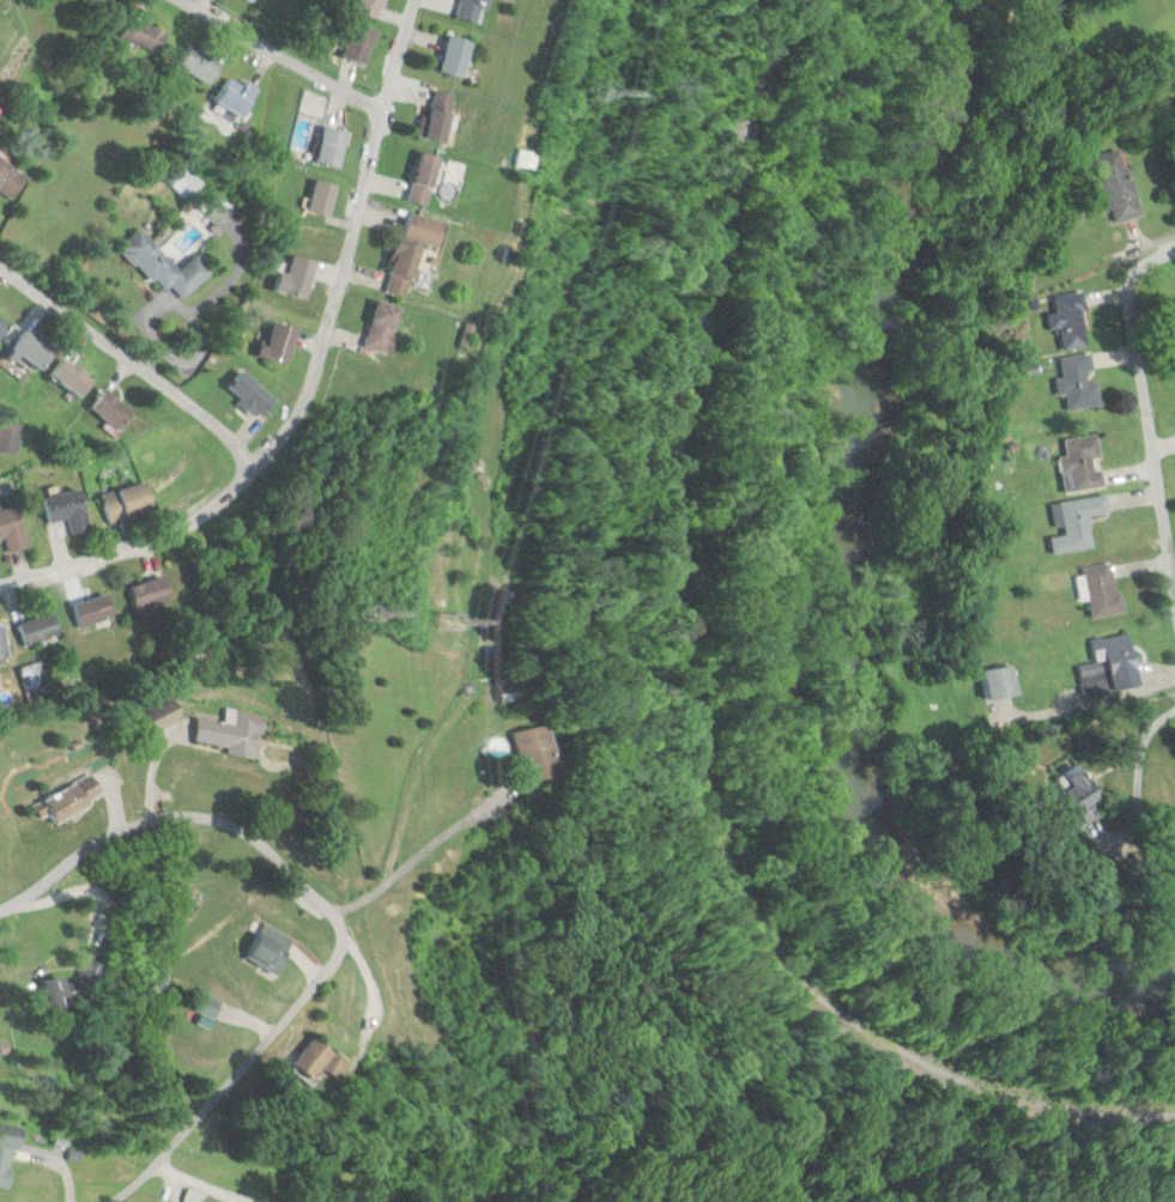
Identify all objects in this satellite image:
building: (249, 0)
building: (367, 7)
building: (472, 10)
building: (146, 35)
building: (359, 43)
road: (277, 55)
building: (458, 57)
building: (199, 65)
power tower: (607, 92)
building: (236, 97)
building: (441, 116)
building: (333, 147)
building: (423, 178)
building: (10, 180)
building: (1115, 186)
building: (322, 198)
building: (424, 229)
building: (166, 267)
building: (404, 268)
building: (298, 278)
building: (1072, 321)
building: (2, 326)
building: (383, 326)
building: (279, 345)
building: (28, 351)
road: (131, 363)
building: (73, 376)
road: (309, 376)
building: (1078, 381)
building: (252, 393)
road: (1144, 405)
building: (113, 409)
building: (1083, 463)
building: (127, 502)
building: (67, 510)
building: (1077, 522)
building: (12, 529)
river: (823, 589)
building: (1103, 591)
building: (144, 600)
building: (95, 611)
power tower: (384, 613)
power tower: (460, 623)
building: (38, 629)
building: (4, 645)
building: (1118, 654)
building: (1003, 682)
building: (511, 693)
railway: (673, 703)
road: (1168, 715)
building: (163, 720)
building: (235, 731)
building: (539, 754)
road: (1138, 771)
building: (1076, 788)
building: (71, 800)
road: (202, 814)
building: (268, 953)
building: (57, 994)
building: (211, 1008)
building: (321, 1060)
road: (242, 1066)
building: (7, 1152)

